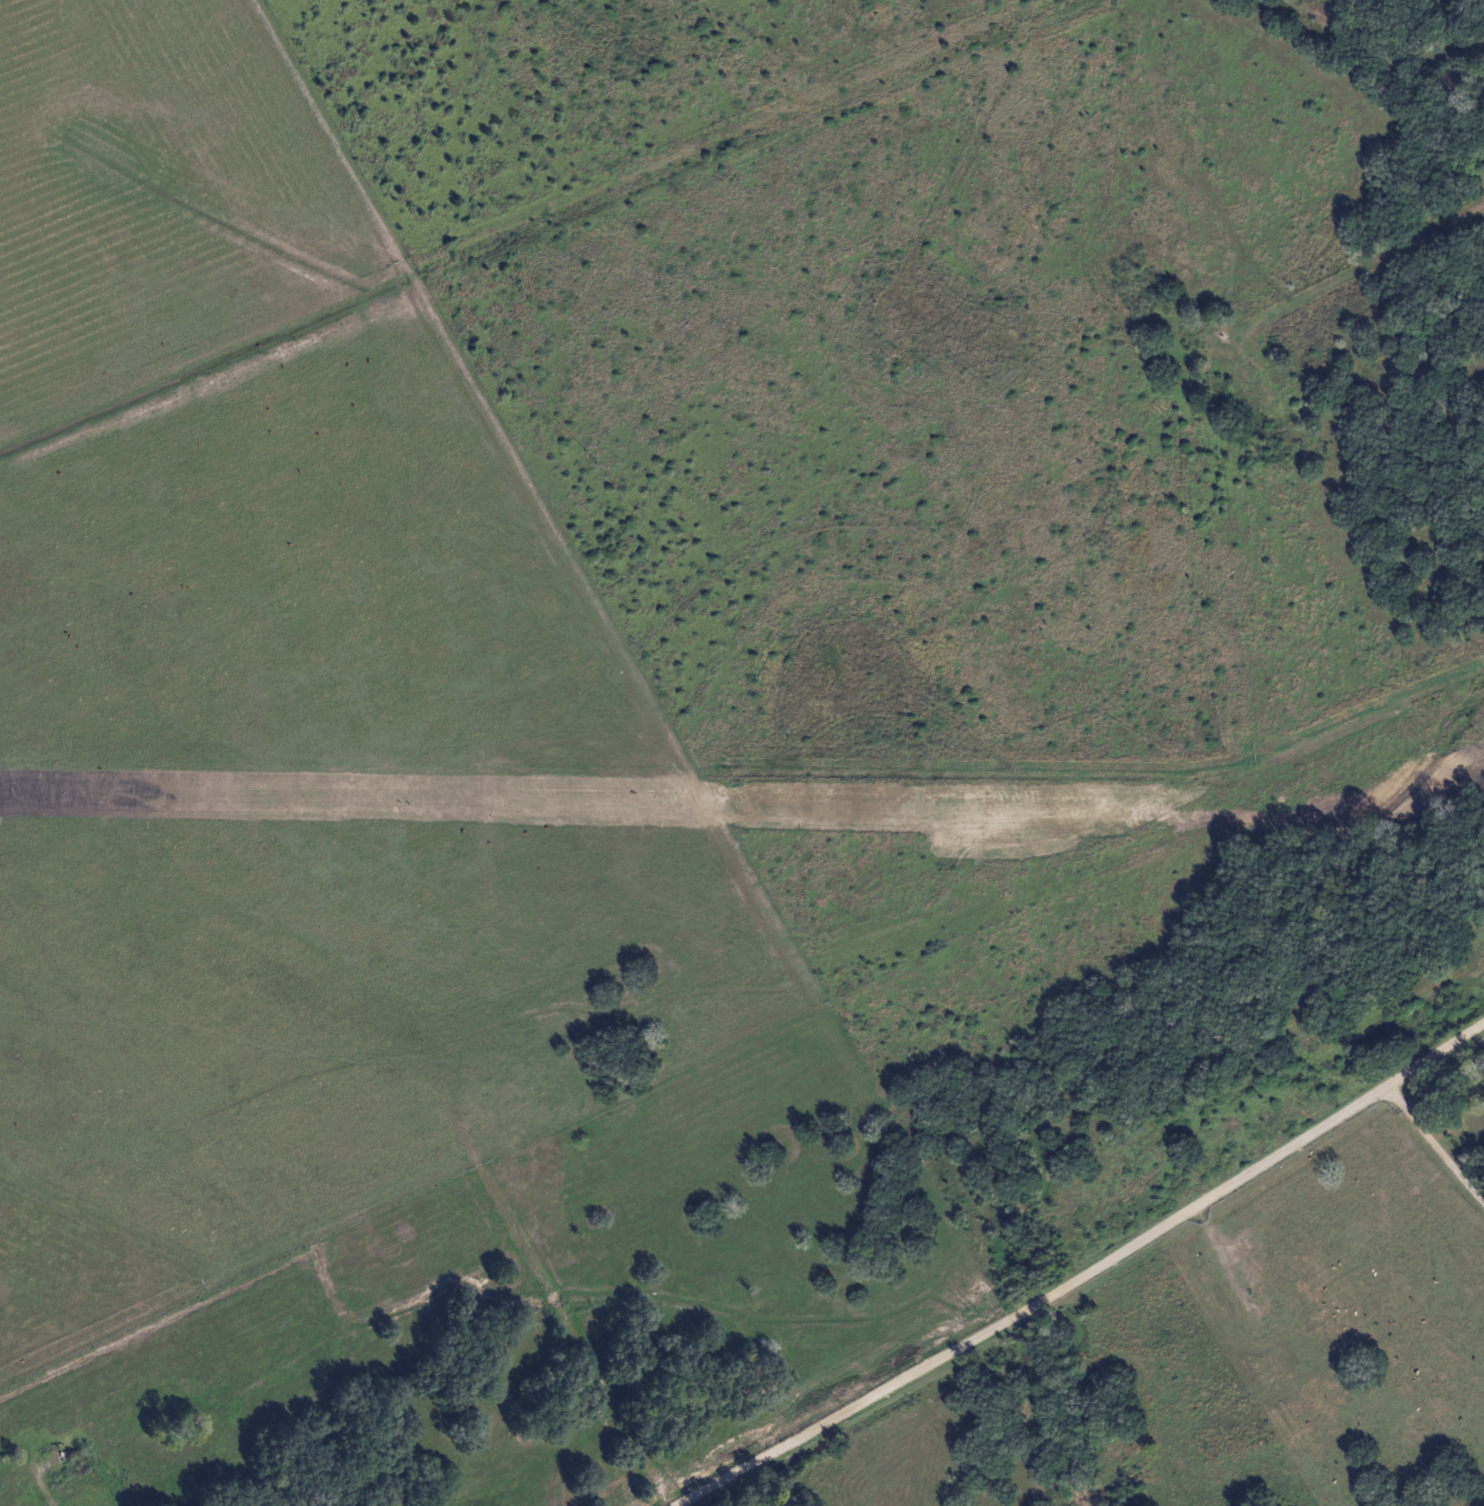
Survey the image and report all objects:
road: (1367, 263)
road: (1201, 986)
road: (1438, 1142)
road: (1089, 1274)
road: (568, 1318)
road: (38, 1475)

